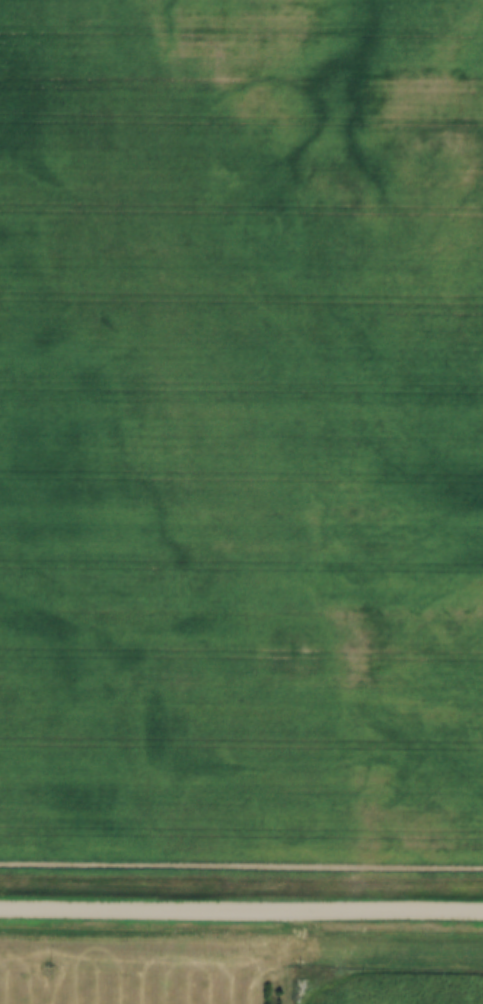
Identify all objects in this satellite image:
road: (241, 908)

